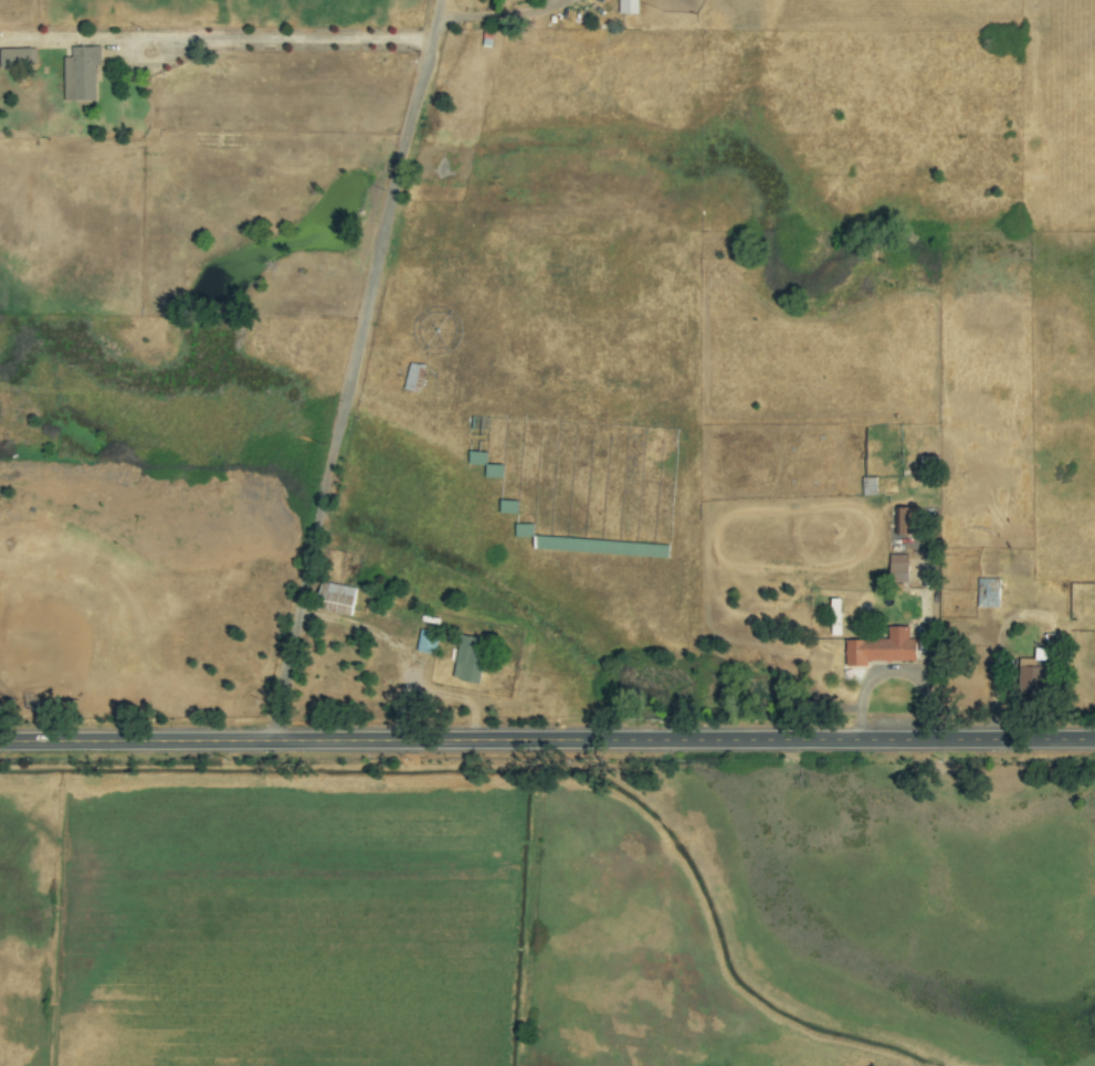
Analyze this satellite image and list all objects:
building: (628, 6)
road: (494, 17)
road: (265, 40)
building: (18, 57)
building: (81, 73)
road: (355, 369)
building: (477, 457)
building: (493, 471)
building: (508, 506)
building: (905, 520)
building: (524, 529)
building: (600, 546)
building: (898, 568)
building: (988, 592)
building: (336, 598)
building: (428, 642)
road: (393, 643)
building: (882, 647)
building: (468, 658)
building: (1031, 677)
road: (455, 700)
road: (547, 739)

